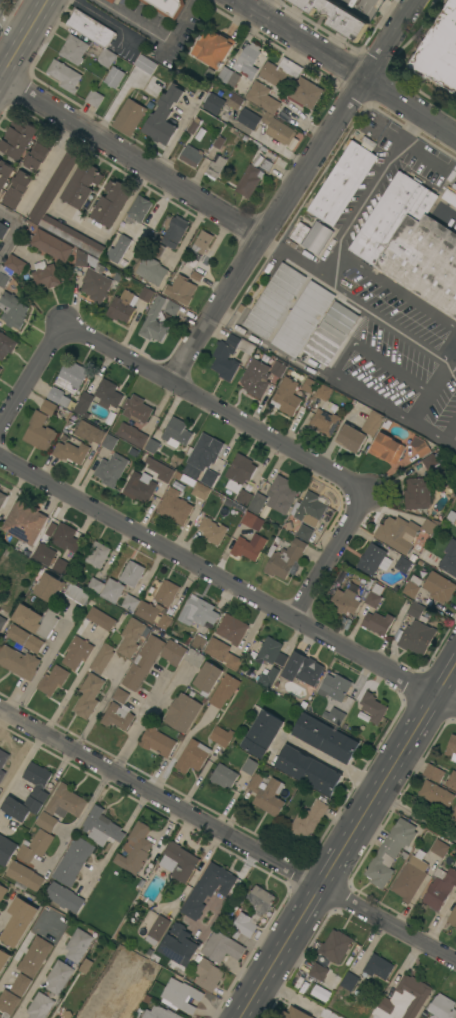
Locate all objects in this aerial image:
building: (111, 1)
building: (166, 7)
road: (262, 7)
road: (388, 10)
building: (336, 17)
building: (91, 28)
road: (10, 29)
road: (22, 34)
road: (153, 36)
road: (389, 40)
building: (213, 48)
building: (74, 49)
building: (439, 50)
building: (106, 58)
building: (249, 60)
building: (146, 65)
road: (345, 68)
building: (280, 71)
building: (64, 76)
building: (229, 76)
building: (114, 77)
building: (306, 93)
building: (94, 98)
building: (236, 101)
building: (213, 103)
building: (270, 113)
building: (283, 116)
building: (129, 117)
building: (164, 117)
building: (249, 119)
building: (192, 127)
building: (18, 138)
building: (218, 142)
road: (267, 143)
building: (39, 152)
road: (131, 153)
building: (191, 156)
building: (215, 167)
building: (5, 173)
building: (249, 181)
building: (343, 183)
building: (82, 185)
building: (54, 186)
building: (17, 189)
road: (369, 189)
building: (450, 197)
building: (112, 203)
building: (138, 209)
building: (3, 230)
road: (15, 230)
road: (266, 231)
building: (174, 232)
building: (299, 232)
building: (317, 238)
building: (202, 242)
building: (411, 243)
building: (51, 245)
building: (118, 249)
building: (157, 249)
building: (82, 259)
road: (297, 261)
building: (10, 269)
building: (152, 270)
building: (45, 275)
building: (196, 276)
building: (95, 285)
building: (181, 289)
road: (403, 295)
building: (274, 300)
building: (128, 304)
building: (172, 308)
building: (13, 310)
building: (302, 318)
building: (155, 321)
road: (389, 326)
building: (329, 334)
building: (6, 345)
building: (230, 356)
road: (452, 359)
road: (452, 367)
building: (278, 368)
building: (0, 369)
road: (30, 375)
building: (71, 377)
building: (256, 378)
road: (338, 378)
building: (310, 386)
building: (322, 392)
road: (430, 393)
building: (108, 394)
building: (288, 396)
building: (58, 397)
building: (84, 403)
building: (48, 407)
road: (213, 408)
building: (137, 409)
building: (325, 422)
building: (373, 423)
road: (449, 429)
building: (40, 432)
building: (89, 432)
building: (176, 433)
building: (132, 435)
building: (351, 438)
building: (109, 442)
building: (152, 446)
building: (420, 447)
building: (388, 448)
building: (71, 452)
building: (132, 452)
building: (205, 452)
building: (430, 461)
building: (160, 469)
building: (111, 470)
building: (191, 471)
building: (239, 472)
building: (209, 477)
building: (140, 486)
building: (194, 486)
building: (281, 494)
building: (417, 494)
building: (244, 497)
building: (2, 499)
building: (257, 503)
building: (175, 507)
building: (310, 509)
building: (451, 516)
building: (252, 521)
building: (25, 523)
building: (0, 525)
building: (429, 526)
building: (212, 531)
building: (304, 533)
building: (397, 533)
building: (455, 533)
building: (66, 538)
building: (248, 547)
building: (415, 551)
building: (97, 555)
road: (328, 556)
building: (429, 557)
building: (284, 558)
building: (412, 558)
building: (50, 559)
building: (449, 559)
building: (374, 560)
building: (403, 564)
building: (132, 574)
road: (226, 582)
building: (95, 586)
building: (412, 586)
building: (48, 587)
building: (439, 587)
building: (113, 590)
building: (166, 592)
building: (77, 594)
building: (374, 596)
building: (344, 602)
building: (130, 603)
building: (402, 610)
building: (416, 610)
building: (148, 611)
building: (200, 614)
building: (3, 618)
building: (100, 619)
building: (35, 620)
building: (164, 622)
building: (378, 623)
building: (231, 629)
building: (417, 637)
building: (131, 638)
building: (26, 639)
building: (198, 642)
building: (271, 652)
building: (77, 653)
building: (173, 653)
building: (222, 653)
building: (194, 657)
building: (102, 658)
building: (143, 662)
building: (19, 663)
building: (303, 669)
road: (39, 670)
building: (268, 677)
building: (207, 678)
building: (53, 680)
building: (335, 687)
building: (224, 690)
building: (89, 696)
building: (303, 704)
road: (99, 705)
building: (373, 707)
building: (118, 711)
building: (183, 712)
building: (334, 716)
building: (363, 716)
road: (138, 726)
building: (343, 726)
building: (263, 734)
building: (222, 736)
building: (326, 738)
building: (157, 741)
building: (452, 748)
building: (193, 756)
road: (171, 760)
road: (332, 760)
building: (2, 763)
building: (249, 766)
road: (19, 770)
building: (308, 770)
building: (434, 773)
building: (224, 776)
building: (451, 781)
building: (38, 792)
building: (267, 794)
building: (437, 795)
building: (65, 802)
building: (453, 815)
road: (416, 816)
building: (309, 818)
road: (77, 821)
building: (47, 822)
building: (102, 828)
road: (227, 838)
road: (347, 840)
building: (35, 846)
building: (441, 846)
building: (135, 849)
building: (6, 850)
building: (390, 852)
building: (73, 861)
building: (178, 862)
building: (24, 877)
building: (217, 878)
building: (410, 878)
road: (186, 887)
building: (440, 888)
building: (2, 892)
building: (64, 897)
building: (260, 912)
road: (4, 915)
building: (212, 917)
building: (452, 918)
building: (18, 921)
road: (440, 921)
building: (157, 930)
building: (78, 945)
building: (179, 945)
building: (335, 946)
building: (222, 947)
building: (35, 957)
building: (3, 959)
building: (86, 966)
building: (378, 967)
building: (318, 972)
building: (208, 975)
road: (4, 976)
building: (59, 977)
road: (38, 978)
building: (349, 981)
building: (21, 985)
building: (182, 995)
road: (300, 997)
building: (146, 999)
building: (403, 1000)
building: (8, 1003)
building: (40, 1006)
building: (442, 1007)
building: (159, 1013)
building: (295, 1013)

